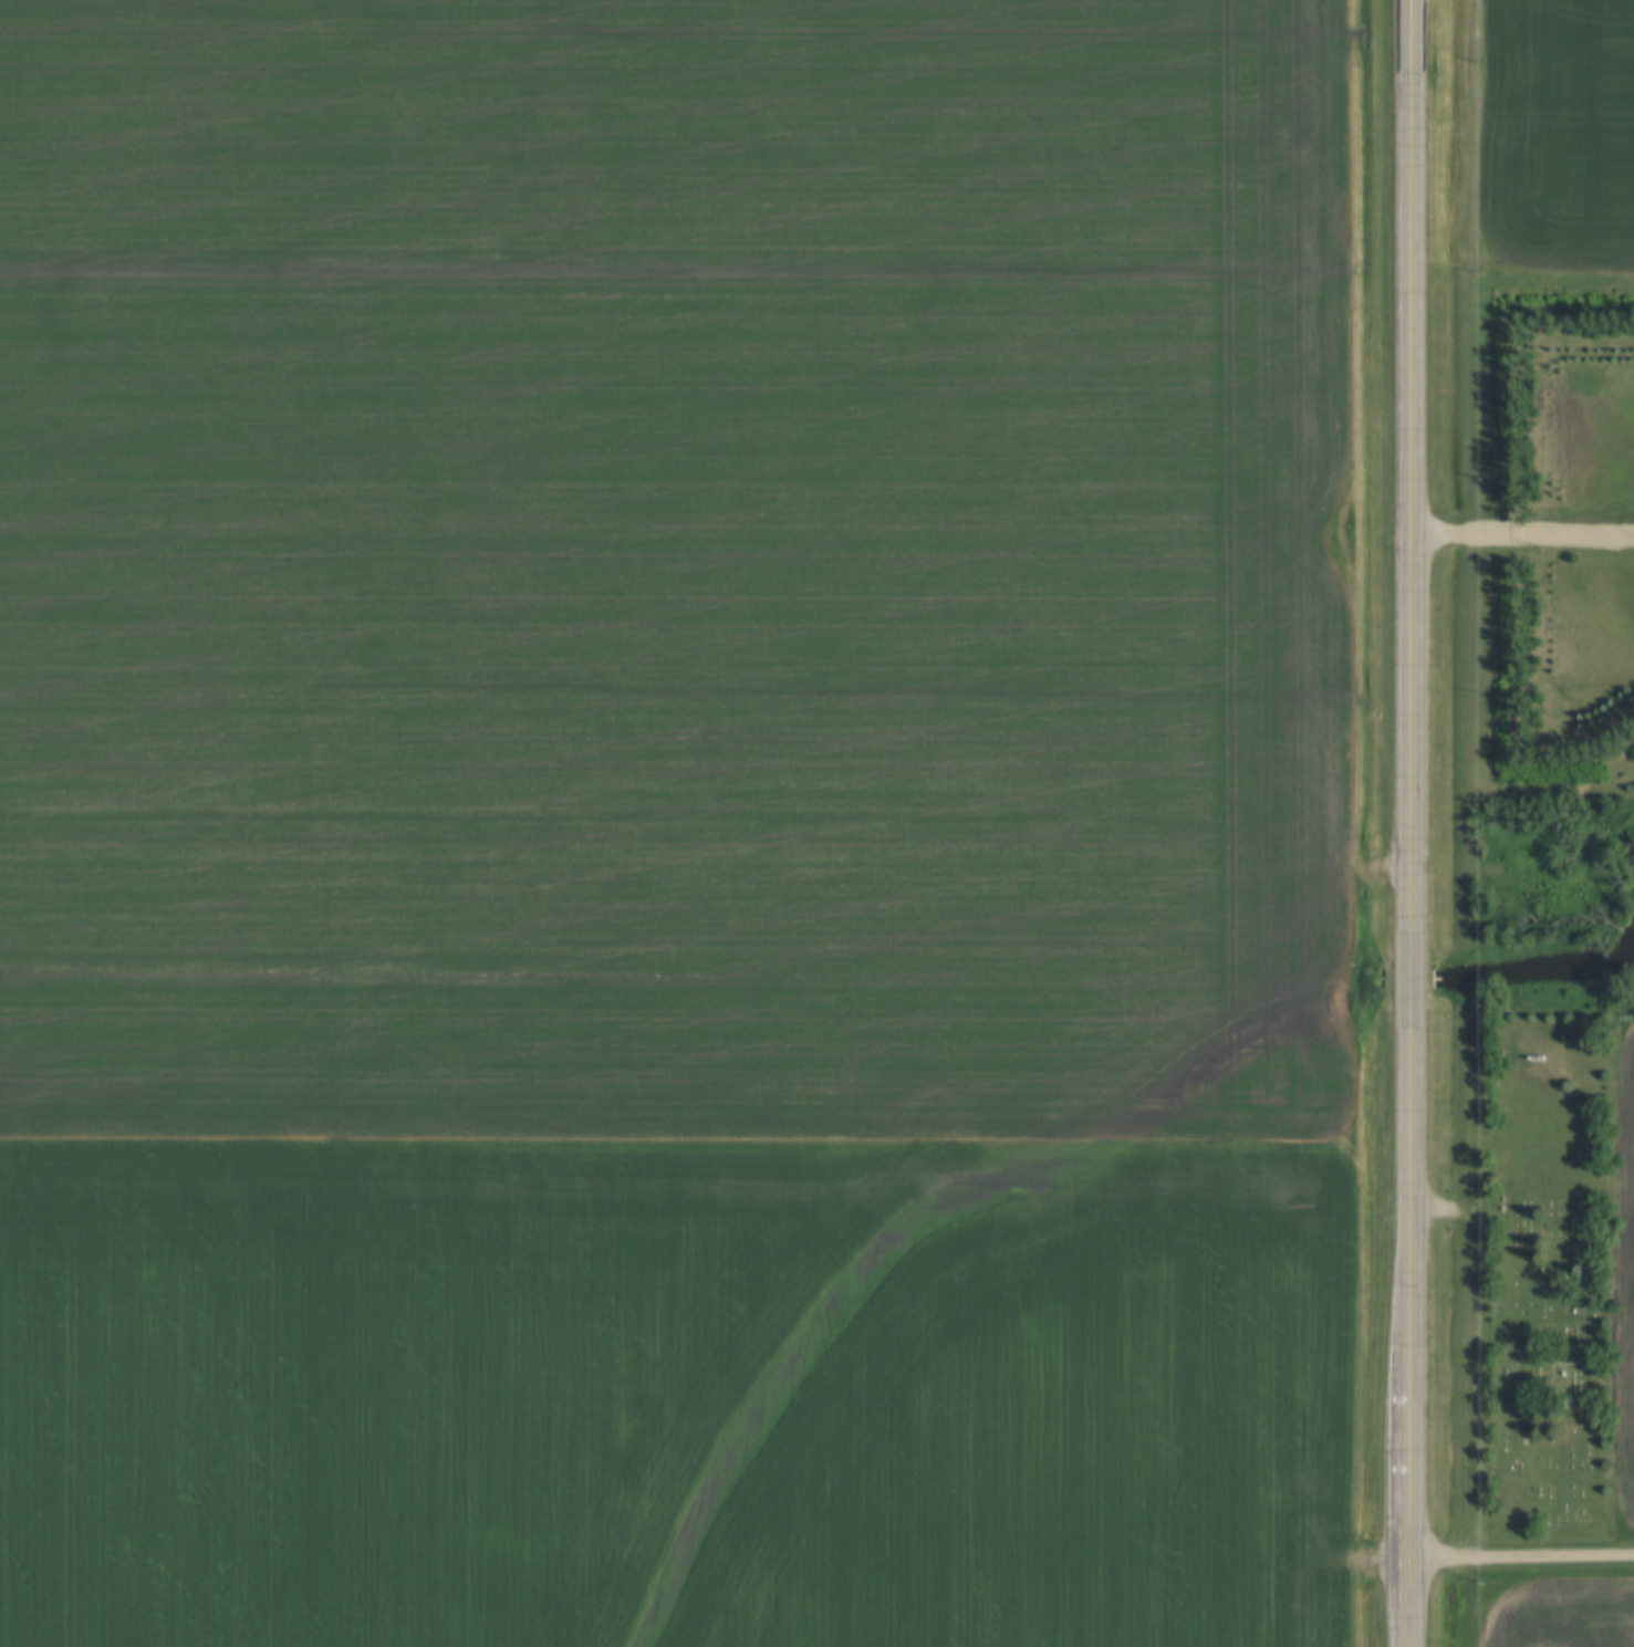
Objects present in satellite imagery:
road: (1520, 535)
road: (1406, 823)
building: (1536, 1055)
road: (1520, 1562)

